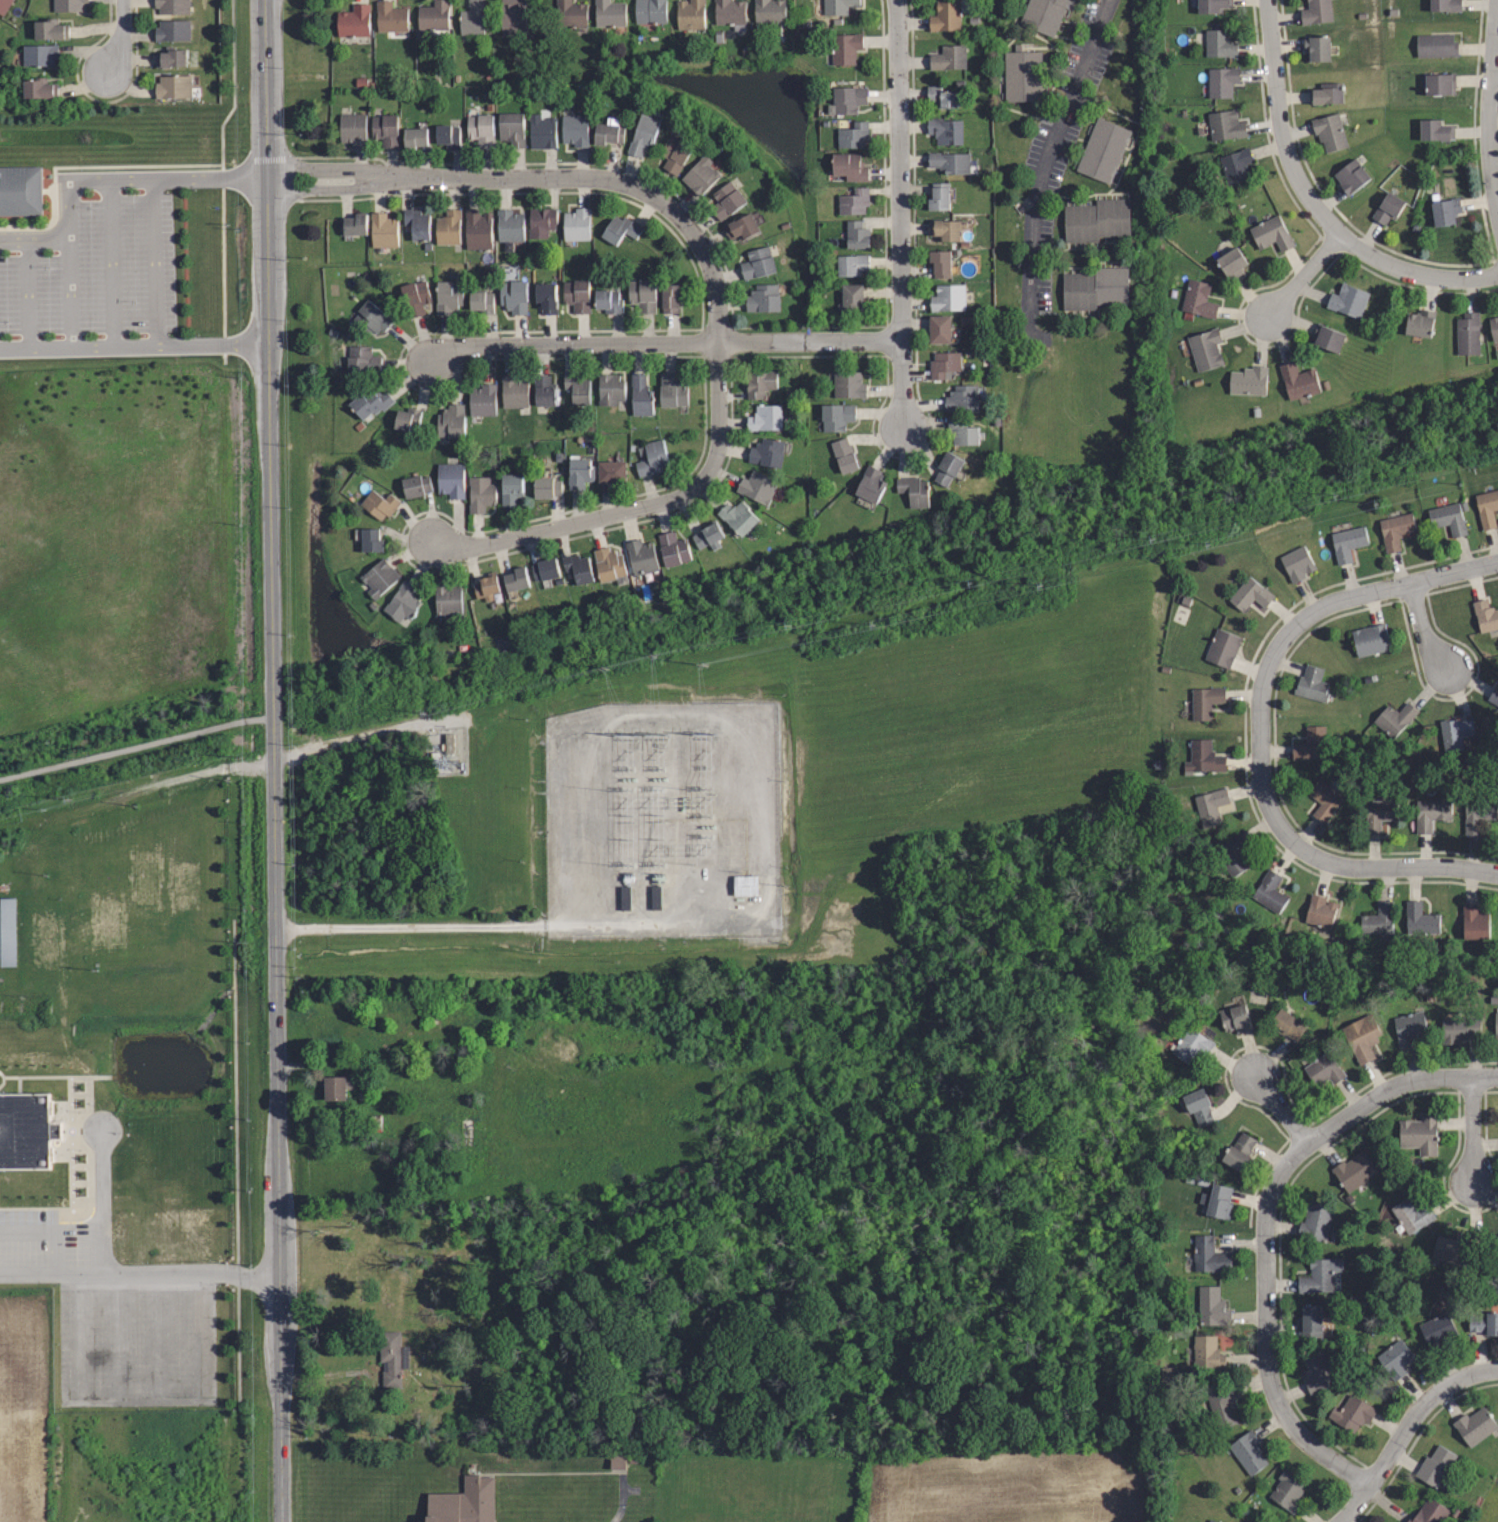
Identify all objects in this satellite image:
building: (4, 5)
building: (69, 5)
building: (1446, 5)
building: (173, 6)
building: (838, 6)
building: (1214, 6)
building: (648, 9)
building: (769, 11)
building: (1317, 11)
building: (730, 12)
building: (608, 13)
building: (571, 14)
building: (690, 14)
building: (1044, 14)
building: (433, 16)
building: (389, 17)
building: (513, 17)
building: (945, 17)
building: (471, 19)
building: (354, 22)
building: (0, 26)
building: (52, 29)
building: (173, 30)
road: (119, 37)
building: (1220, 43)
building: (846, 48)
building: (1316, 48)
building: (1437, 48)
building: (171, 56)
building: (41, 57)
building: (948, 58)
building: (1023, 75)
building: (1223, 82)
building: (1441, 85)
building: (172, 87)
building: (39, 88)
building: (942, 96)
building: (1328, 97)
building: (849, 100)
road: (1486, 110)
building: (1226, 125)
building: (352, 128)
building: (384, 128)
building: (512, 129)
building: (574, 129)
building: (480, 130)
building: (945, 130)
building: (608, 131)
building: (1436, 131)
building: (543, 132)
building: (1329, 133)
building: (643, 135)
building: (853, 135)
building: (447, 137)
building: (416, 138)
building: (1104, 150)
building: (675, 154)
building: (949, 162)
building: (1237, 165)
building: (849, 166)
road: (899, 169)
road: (1046, 169)
building: (701, 176)
building: (1350, 176)
road: (104, 177)
road: (546, 177)
building: (22, 189)
building: (940, 197)
building: (726, 201)
building: (854, 201)
road: (1311, 202)
building: (1389, 209)
building: (1447, 210)
building: (1097, 220)
building: (416, 223)
building: (541, 224)
building: (575, 224)
building: (353, 225)
building: (509, 225)
building: (448, 226)
building: (382, 228)
building: (742, 228)
building: (477, 229)
building: (622, 229)
building: (946, 229)
building: (1271, 233)
building: (857, 235)
building: (1230, 262)
building: (940, 263)
building: (758, 264)
building: (852, 264)
road: (1306, 275)
building: (1095, 288)
building: (545, 295)
building: (642, 295)
building: (577, 296)
building: (450, 297)
building: (513, 297)
building: (852, 297)
building: (416, 298)
building: (670, 298)
building: (764, 298)
building: (948, 298)
building: (1198, 299)
building: (1346, 300)
building: (608, 301)
building: (482, 303)
building: (371, 318)
building: (1420, 323)
building: (1494, 327)
building: (940, 330)
building: (1469, 334)
building: (1328, 338)
road: (663, 342)
road: (134, 345)
building: (1205, 350)
building: (363, 361)
building: (944, 364)
building: (1248, 380)
building: (1298, 380)
road: (901, 382)
building: (761, 383)
building: (849, 386)
building: (544, 388)
building: (611, 388)
building: (579, 389)
building: (672, 390)
building: (514, 392)
building: (640, 395)
building: (961, 400)
building: (484, 401)
building: (373, 403)
building: (836, 415)
building: (765, 416)
building: (408, 419)
building: (451, 421)
building: (961, 434)
building: (766, 453)
building: (843, 453)
building: (652, 458)
building: (613, 469)
building: (947, 469)
building: (581, 472)
building: (451, 480)
building: (415, 485)
building: (870, 485)
building: (546, 487)
building: (756, 488)
building: (512, 489)
building: (914, 491)
building: (480, 494)
building: (379, 505)
road: (638, 507)
building: (1488, 507)
building: (1448, 515)
building: (739, 518)
building: (1396, 527)
building: (708, 536)
building: (1347, 540)
building: (371, 541)
building: (672, 550)
building: (640, 553)
building: (1296, 563)
building: (609, 564)
building: (577, 566)
building: (543, 568)
building: (378, 578)
building: (516, 580)
building: (486, 587)
building: (1250, 591)
road: (1341, 596)
building: (448, 601)
building: (401, 603)
building: (1485, 612)
road: (1422, 632)
building: (1370, 637)
building: (1223, 646)
building: (1312, 682)
building: (1494, 694)
building: (1205, 699)
building: (1393, 720)
building: (1453, 730)
road: (370, 733)
building: (452, 741)
building: (1311, 742)
building: (1202, 755)
road: (273, 761)
building: (1323, 797)
building: (1209, 804)
building: (1379, 812)
building: (1477, 812)
building: (1429, 813)
power substation: (660, 821)
building: (1232, 851)
road: (1327, 861)
building: (741, 888)
building: (1269, 889)
building: (1318, 911)
building: (1421, 917)
building: (1378, 918)
building: (1476, 921)
road: (519, 925)
building: (11, 932)
building: (1236, 1018)
building: (1287, 1024)
building: (1410, 1029)
building: (1459, 1029)
building: (1497, 1029)
building: (1362, 1035)
building: (1191, 1046)
building: (1324, 1071)
building: (334, 1087)
road: (1382, 1092)
building: (1198, 1106)
road: (1281, 1110)
road: (1472, 1129)
building: (27, 1130)
building: (1419, 1134)
building: (1239, 1151)
building: (1353, 1170)
road: (103, 1197)
building: (1219, 1201)
building: (1411, 1214)
building: (1316, 1220)
road: (49, 1231)
building: (1491, 1231)
building: (1455, 1247)
building: (1208, 1256)
road: (168, 1272)
road: (28, 1274)
building: (1320, 1274)
building: (1212, 1306)
building: (1309, 1321)
building: (1484, 1323)
building: (1437, 1330)
road: (1265, 1343)
building: (1207, 1352)
building: (1395, 1357)
building: (392, 1358)
building: (1317, 1374)
building: (1222, 1404)
crop: (24, 1407)
building: (1352, 1414)
building: (1475, 1425)
road: (1404, 1428)
building: (1248, 1454)
building: (614, 1462)
building: (1434, 1465)
crop: (1015, 1488)
building: (1287, 1490)
building: (463, 1502)
building: (1428, 1512)
building: (1210, 1521)

